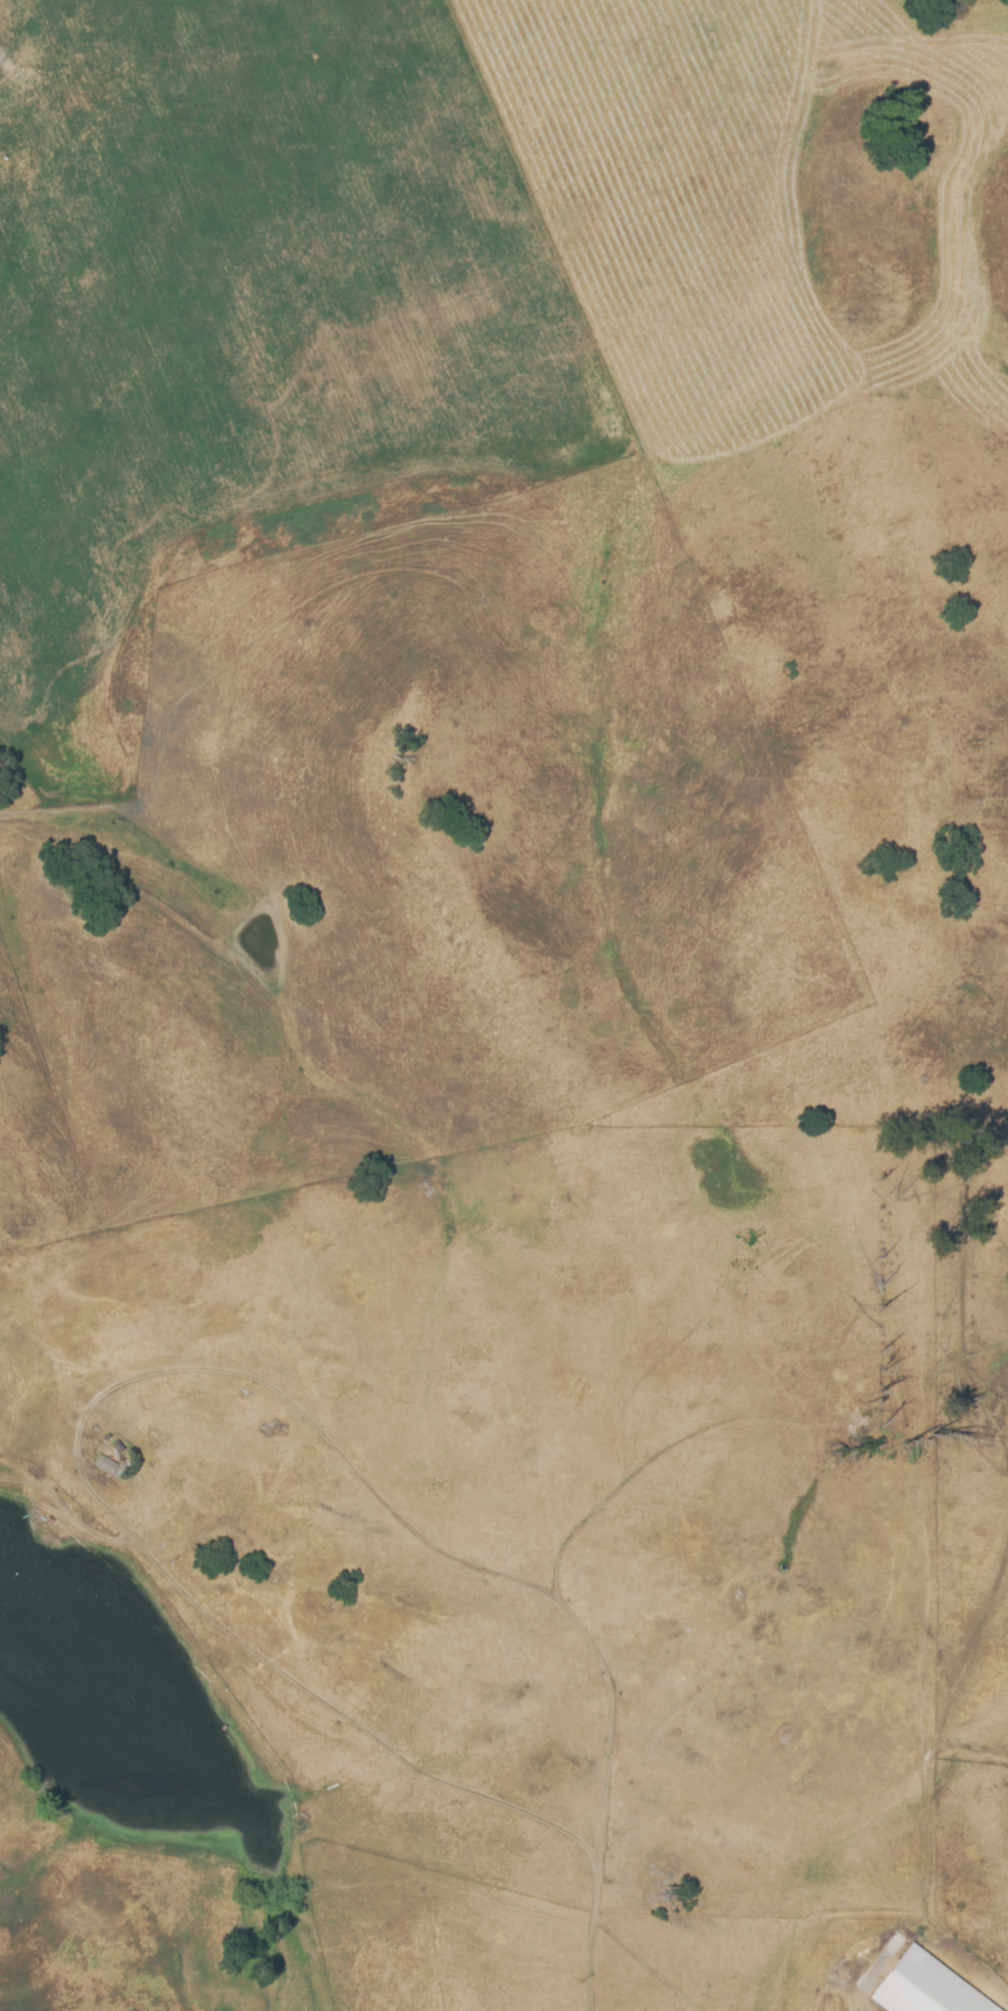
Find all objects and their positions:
dam: (34, 1498)

